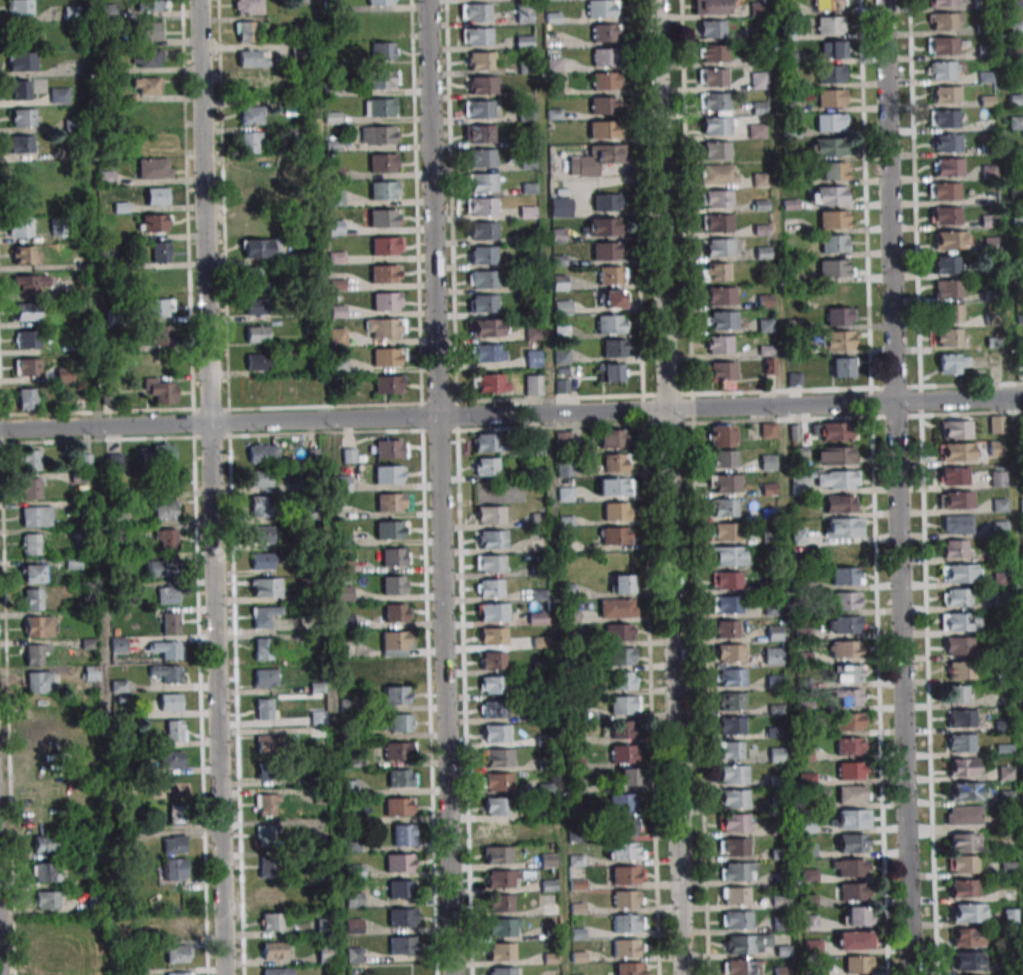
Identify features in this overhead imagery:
building: (380, 2)
building: (944, 3)
building: (828, 4)
building: (153, 6)
building: (248, 6)
building: (20, 7)
building: (712, 7)
building: (602, 8)
building: (756, 8)
building: (71, 12)
building: (475, 12)
building: (524, 13)
building: (945, 21)
building: (829, 25)
building: (712, 29)
building: (147, 31)
building: (245, 31)
building: (605, 32)
building: (476, 36)
building: (28, 38)
building: (942, 45)
building: (833, 49)
building: (383, 51)
building: (712, 53)
building: (604, 56)
building: (146, 58)
building: (254, 58)
building: (479, 60)
building: (23, 61)
building: (944, 70)
building: (830, 74)
building: (712, 77)
building: (380, 79)
building: (606, 80)
building: (758, 80)
building: (251, 85)
building: (482, 85)
building: (148, 86)
building: (20, 90)
building: (946, 94)
building: (60, 95)
building: (831, 97)
building: (604, 105)
building: (379, 107)
building: (759, 108)
building: (480, 109)
building: (146, 114)
building: (526, 114)
building: (251, 115)
building: (23, 118)
building: (944, 118)
building: (830, 122)
building: (717, 126)
building: (603, 129)
building: (756, 131)
building: (481, 134)
building: (378, 135)
building: (251, 142)
building: (947, 142)
building: (21, 144)
building: (826, 147)
building: (716, 150)
building: (481, 158)
building: (596, 159)
building: (383, 162)
building: (527, 162)
building: (947, 167)
building: (154, 168)
building: (834, 170)
building: (285, 172)
building: (718, 174)
building: (482, 182)
building: (383, 190)
building: (944, 191)
building: (250, 195)
building: (828, 195)
building: (156, 196)
building: (716, 198)
building: (607, 202)
road: (658, 205)
building: (481, 206)
building: (560, 207)
building: (945, 215)
building: (382, 218)
building: (251, 219)
building: (833, 219)
building: (153, 223)
building: (717, 223)
building: (604, 226)
building: (20, 227)
building: (483, 230)
building: (949, 240)
building: (834, 244)
building: (386, 246)
building: (719, 247)
building: (259, 248)
building: (606, 251)
building: (160, 252)
building: (25, 255)
building: (482, 255)
building: (946, 264)
building: (834, 268)
building: (715, 272)
building: (385, 274)
building: (611, 275)
building: (254, 278)
building: (483, 279)
building: (30, 284)
building: (949, 288)
building: (835, 292)
building: (721, 295)
building: (613, 298)
building: (387, 301)
building: (483, 303)
building: (256, 306)
building: (562, 307)
building: (158, 308)
building: (27, 311)
building: (952, 312)
building: (840, 316)
building: (721, 320)
building: (611, 323)
building: (486, 327)
building: (385, 328)
building: (257, 334)
building: (337, 336)
building: (161, 337)
building: (949, 337)
building: (27, 339)
building: (838, 340)
building: (719, 344)
building: (614, 347)
building: (488, 352)
building: (389, 357)
building: (561, 357)
building: (534, 358)
building: (257, 362)
building: (952, 363)
building: (27, 367)
building: (843, 367)
building: (721, 370)
building: (613, 372)
building: (1019, 372)
building: (63, 375)
building: (490, 383)
building: (389, 384)
building: (533, 385)
building: (160, 390)
building: (109, 397)
building: (27, 399)
road: (511, 414)
building: (996, 424)
building: (955, 429)
building: (768, 430)
building: (833, 430)
building: (722, 435)
building: (562, 438)
building: (612, 438)
building: (487, 442)
building: (996, 448)
building: (389, 449)
building: (163, 452)
building: (956, 452)
building: (263, 453)
building: (349, 455)
building: (835, 455)
building: (724, 459)
building: (30, 460)
building: (615, 462)
building: (768, 463)
building: (486, 467)
building: (389, 474)
building: (954, 476)
building: (260, 478)
building: (998, 478)
building: (838, 479)
building: (725, 483)
building: (798, 483)
building: (342, 484)
building: (615, 486)
road: (209, 487)
road: (438, 487)
road: (894, 487)
building: (30, 488)
building: (956, 499)
building: (390, 502)
building: (841, 504)
building: (260, 506)
building: (723, 507)
building: (165, 510)
building: (617, 511)
building: (490, 515)
building: (36, 516)
building: (957, 524)
building: (843, 528)
building: (391, 530)
building: (724, 531)
building: (263, 534)
building: (616, 535)
building: (798, 536)
building: (166, 538)
building: (491, 539)
building: (31, 544)
building: (955, 548)
building: (728, 556)
building: (395, 557)
building: (262, 560)
building: (73, 562)
building: (490, 563)
building: (345, 564)
building: (160, 568)
building: (960, 573)
building: (33, 574)
building: (846, 576)
building: (727, 580)
building: (623, 583)
building: (394, 584)
building: (265, 587)
building: (490, 588)
building: (168, 595)
building: (956, 597)
building: (34, 599)
building: (846, 600)
building: (726, 604)
building: (618, 607)
building: (397, 612)
building: (493, 612)
building: (264, 616)
building: (538, 618)
building: (345, 621)
building: (171, 622)
building: (960, 622)
building: (844, 624)
building: (39, 626)
building: (726, 629)
building: (620, 632)
building: (802, 632)
building: (774, 633)
building: (493, 636)
building: (396, 643)
building: (118, 645)
building: (958, 646)
building: (167, 649)
building: (844, 649)
building: (267, 650)
building: (730, 653)
building: (36, 655)
building: (773, 655)
building: (622, 656)
building: (493, 660)
building: (398, 668)
building: (960, 670)
building: (167, 673)
building: (848, 673)
building: (731, 677)
building: (266, 678)
building: (625, 680)
building: (40, 682)
building: (493, 684)
road: (671, 692)
building: (956, 694)
building: (396, 695)
building: (850, 697)
building: (732, 701)
building: (169, 702)
building: (625, 704)
building: (264, 709)
building: (493, 709)
building: (39, 710)
building: (962, 718)
building: (850, 721)
building: (397, 722)
building: (731, 725)
building: (624, 729)
building: (173, 730)
building: (776, 731)
building: (496, 733)
building: (41, 738)
building: (961, 742)
building: (268, 746)
building: (851, 746)
building: (730, 750)
building: (398, 751)
building: (623, 753)
building: (777, 755)
building: (497, 757)
building: (172, 760)
building: (963, 767)
building: (851, 770)
building: (269, 771)
building: (734, 774)
building: (629, 777)
building: (401, 778)
building: (497, 781)
building: (349, 788)
building: (965, 791)
building: (853, 794)
building: (735, 798)
building: (624, 802)
building: (267, 804)
building: (497, 805)
building: (398, 806)
building: (177, 814)
building: (963, 815)
building: (850, 818)
building: (735, 822)
building: (625, 826)
building: (499, 830)
building: (267, 835)
building: (404, 835)
building: (963, 842)
building: (853, 843)
building: (44, 844)
building: (174, 844)
building: (734, 846)
building: (625, 851)
building: (497, 855)
building: (400, 863)
building: (963, 864)
building: (269, 867)
building: (850, 867)
building: (175, 869)
building: (737, 871)
building: (45, 872)
building: (627, 875)
building: (501, 879)
building: (964, 888)
building: (402, 889)
building: (853, 891)
building: (270, 896)
building: (735, 896)
building: (627, 898)
building: (354, 899)
building: (47, 900)
building: (500, 903)
building: (967, 913)
building: (857, 916)
building: (402, 917)
building: (736, 920)
building: (272, 921)
building: (627, 923)
building: (178, 925)
building: (353, 926)
building: (503, 927)
building: (549, 932)
building: (968, 936)
building: (854, 940)
building: (749, 943)
building: (402, 945)
building: (626, 947)
building: (273, 950)
building: (501, 951)
building: (325, 953)
building: (178, 954)
building: (48, 955)
building: (353, 955)
building: (969, 960)
building: (95, 962)
building: (859, 964)
building: (742, 967)
building: (625, 968)
building: (276, 971)
building: (502, 971)
building: (50, 974)
building: (180, 974)

